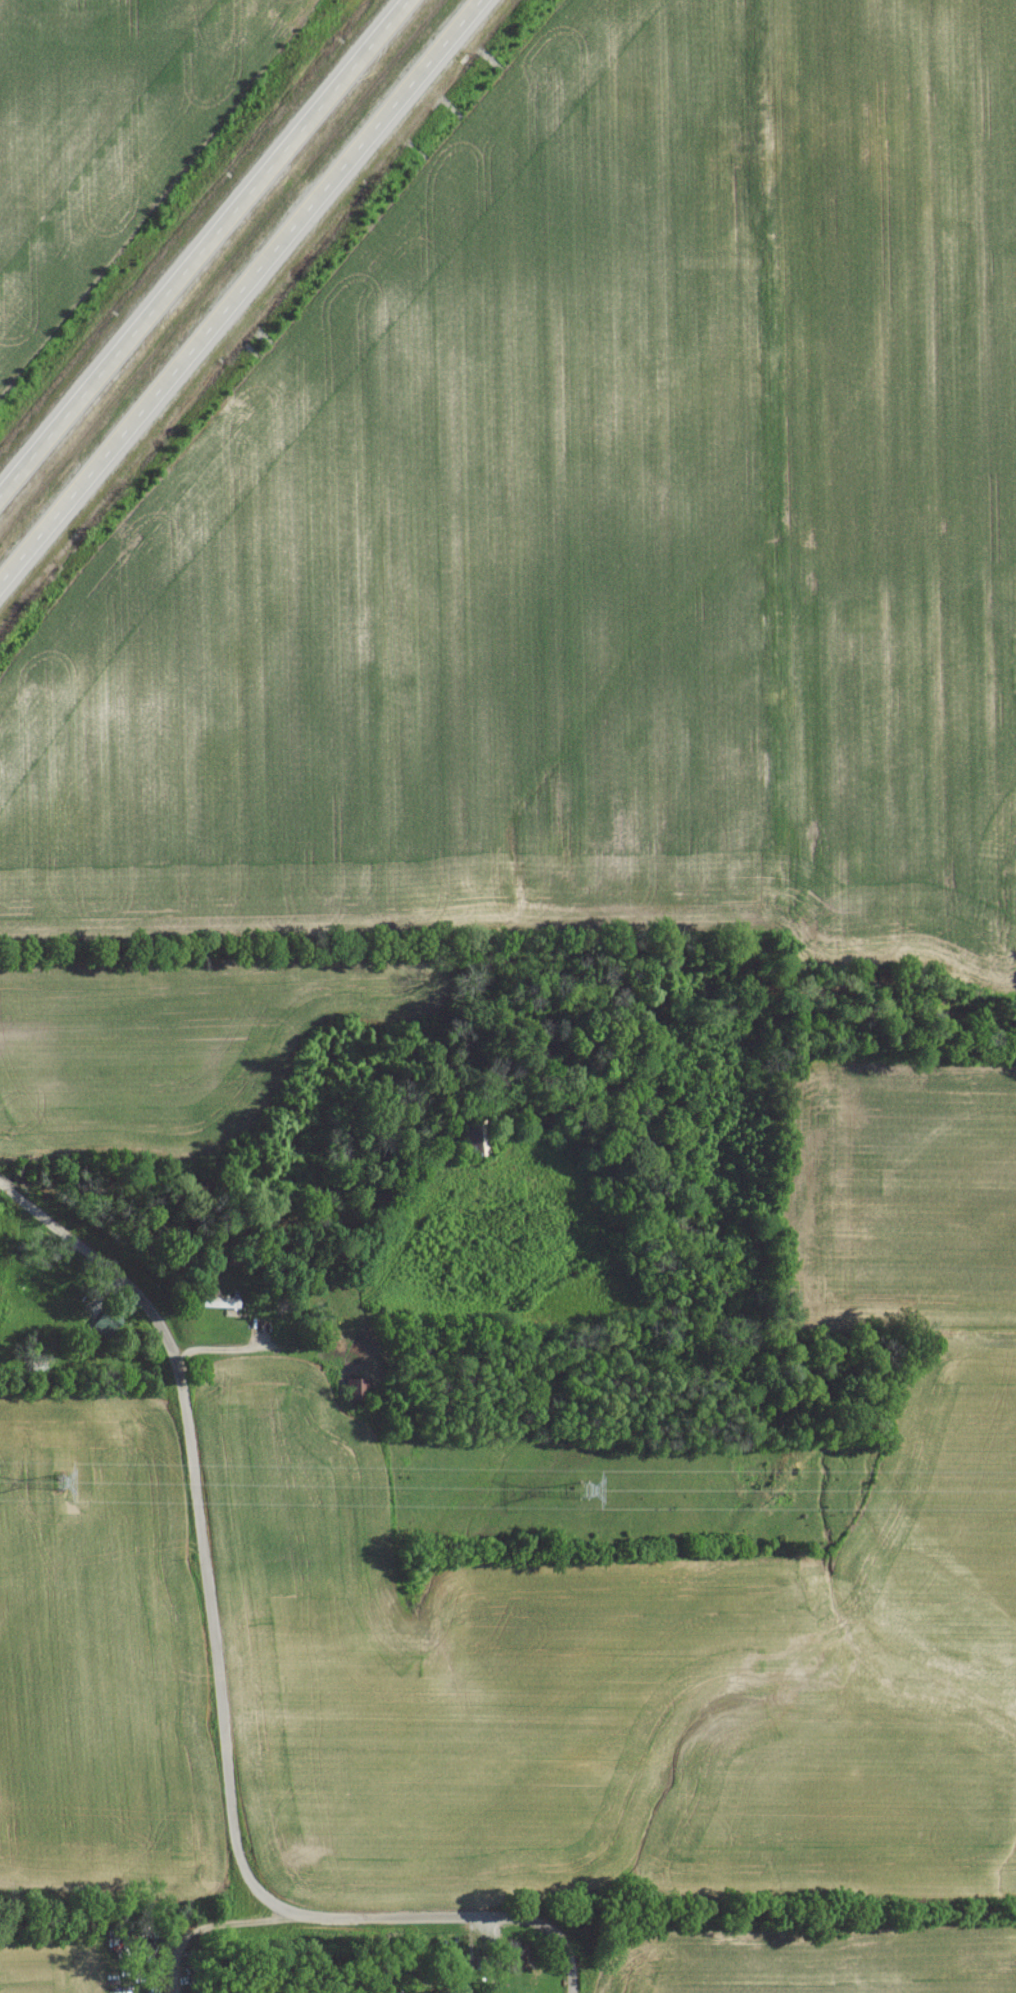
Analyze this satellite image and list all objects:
road: (207, 255)
road: (244, 298)
building: (475, 1143)
building: (220, 1308)
road: (223, 1352)
power tower: (58, 1488)
power tower: (582, 1494)
road: (214, 1688)

